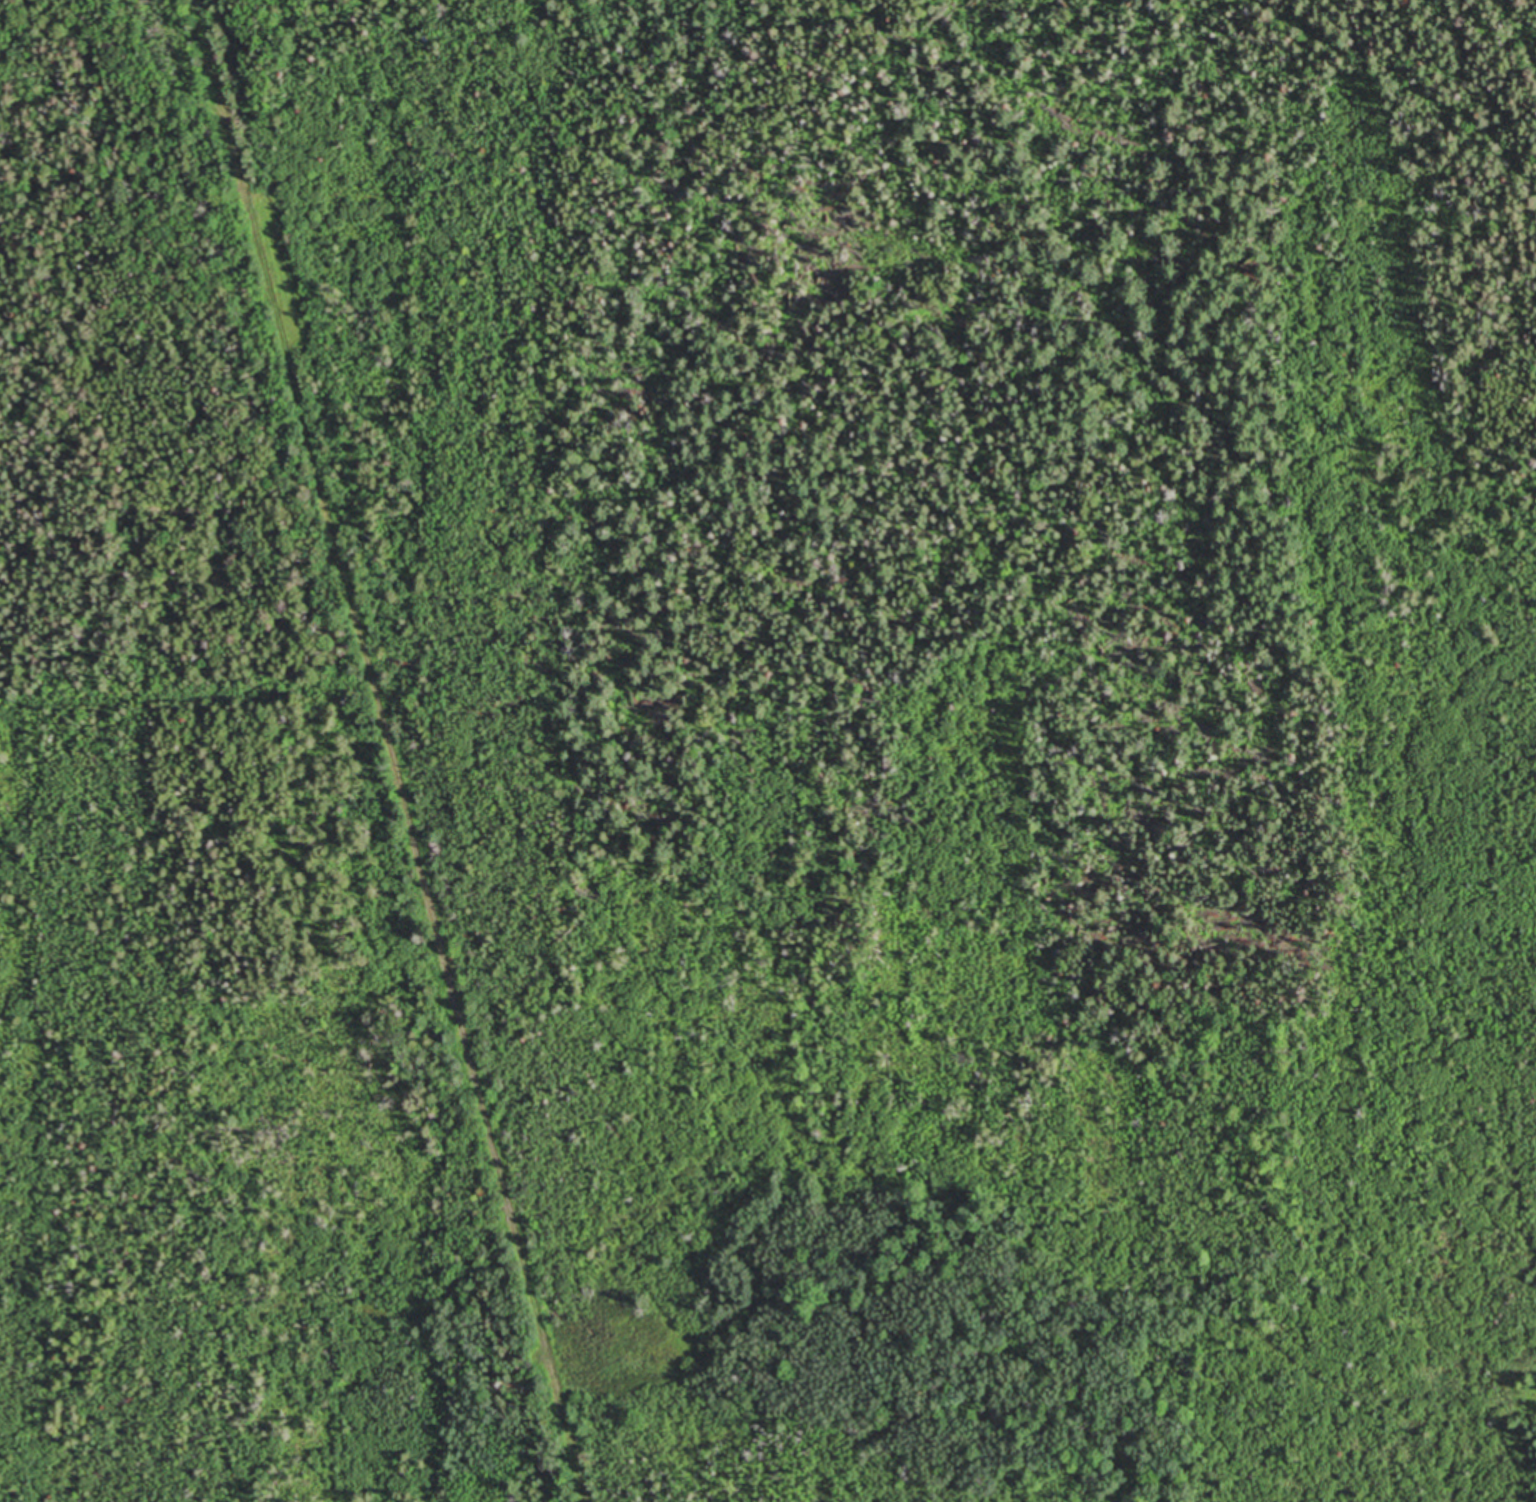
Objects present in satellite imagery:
road: (400, 752)

